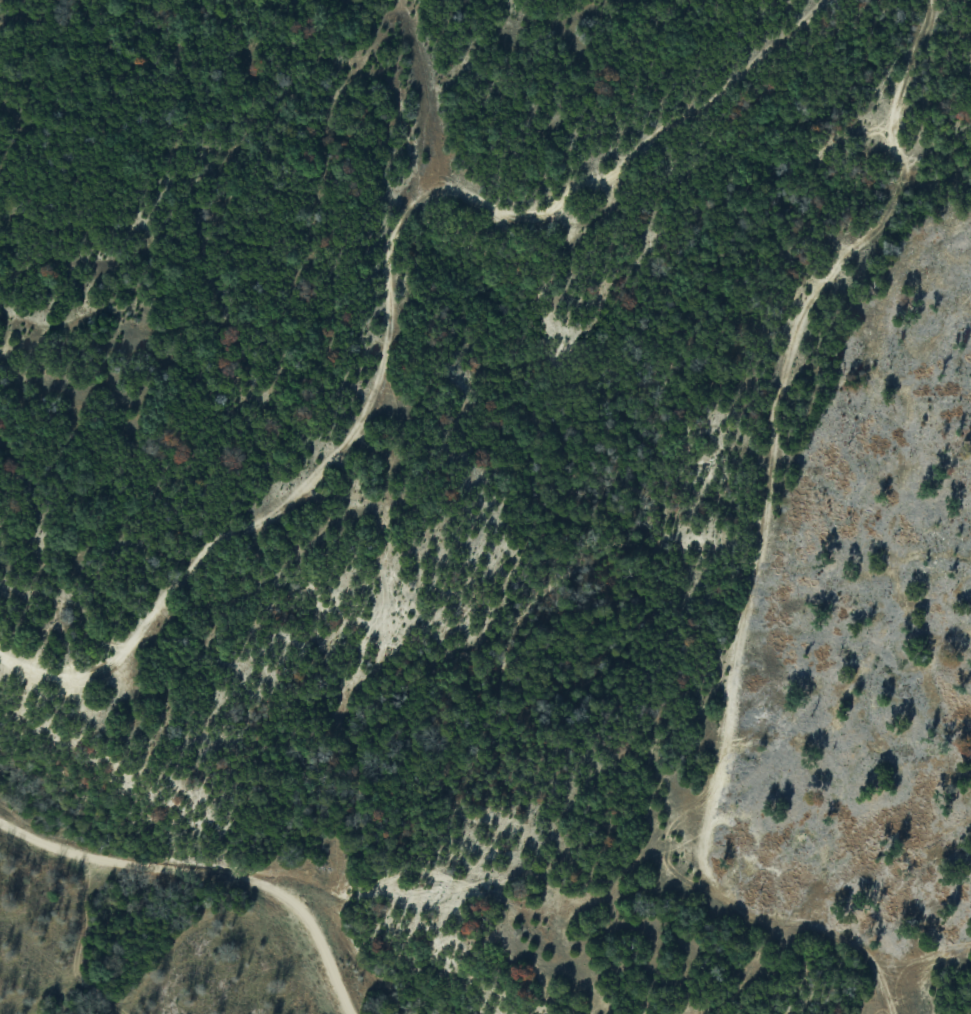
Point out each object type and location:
road: (208, 872)

